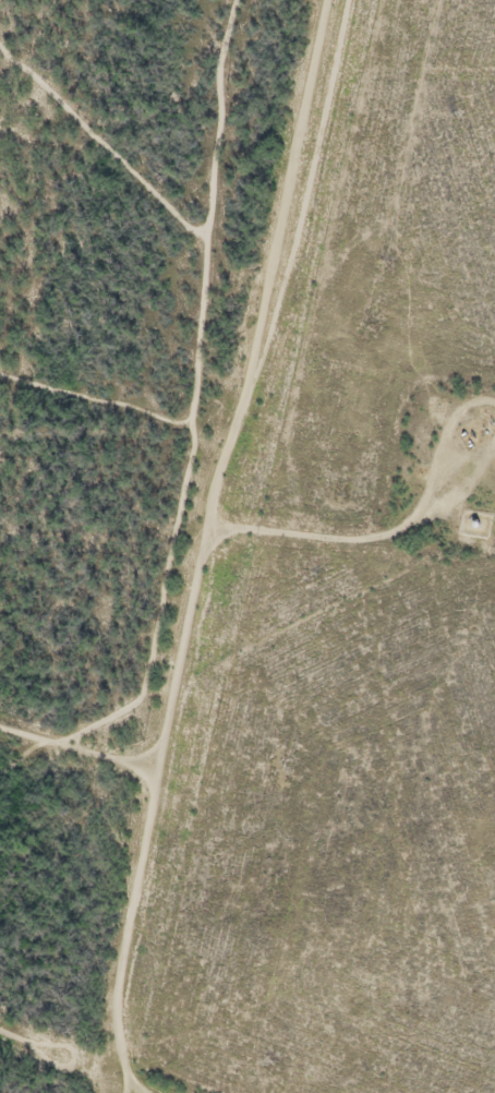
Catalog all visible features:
road: (202, 557)
road: (119, 1080)

